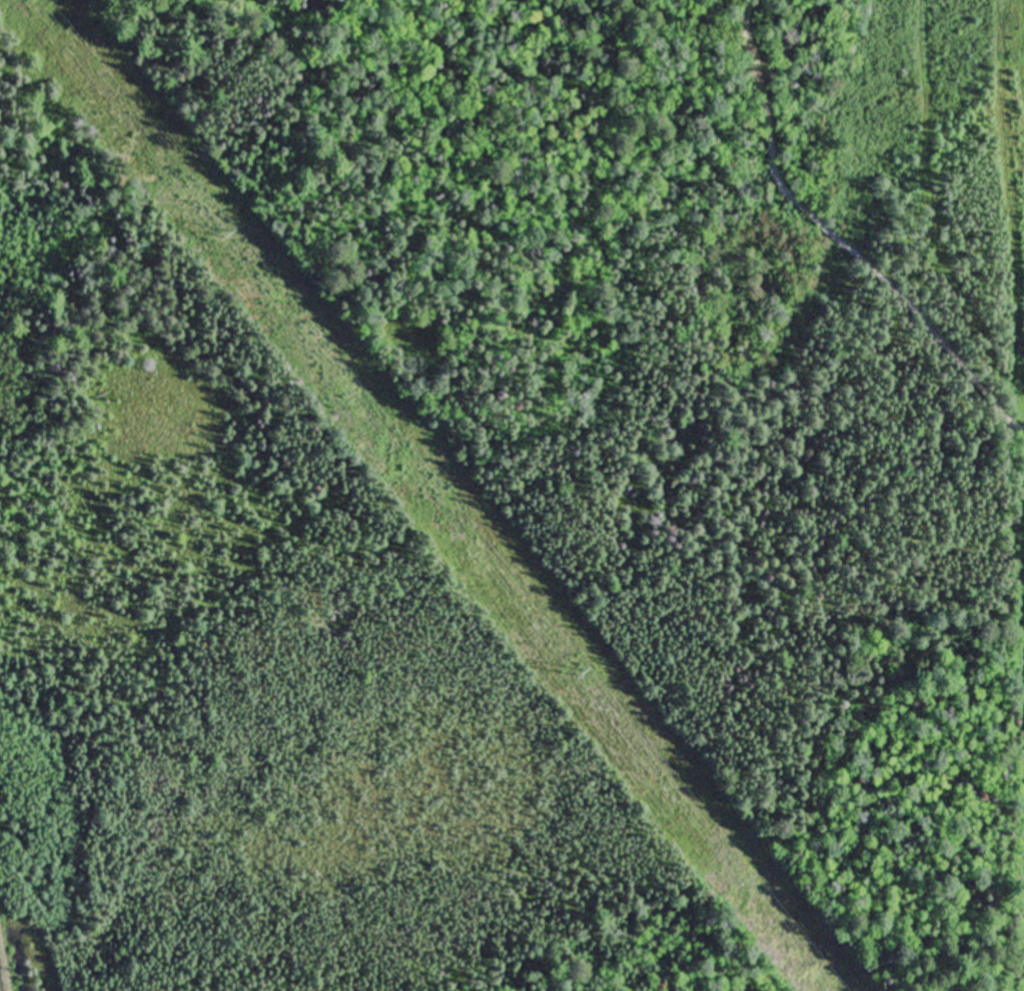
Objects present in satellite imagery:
road: (751, 89)
power tower: (228, 231)
road: (836, 248)
road: (959, 373)
power tower: (596, 677)

